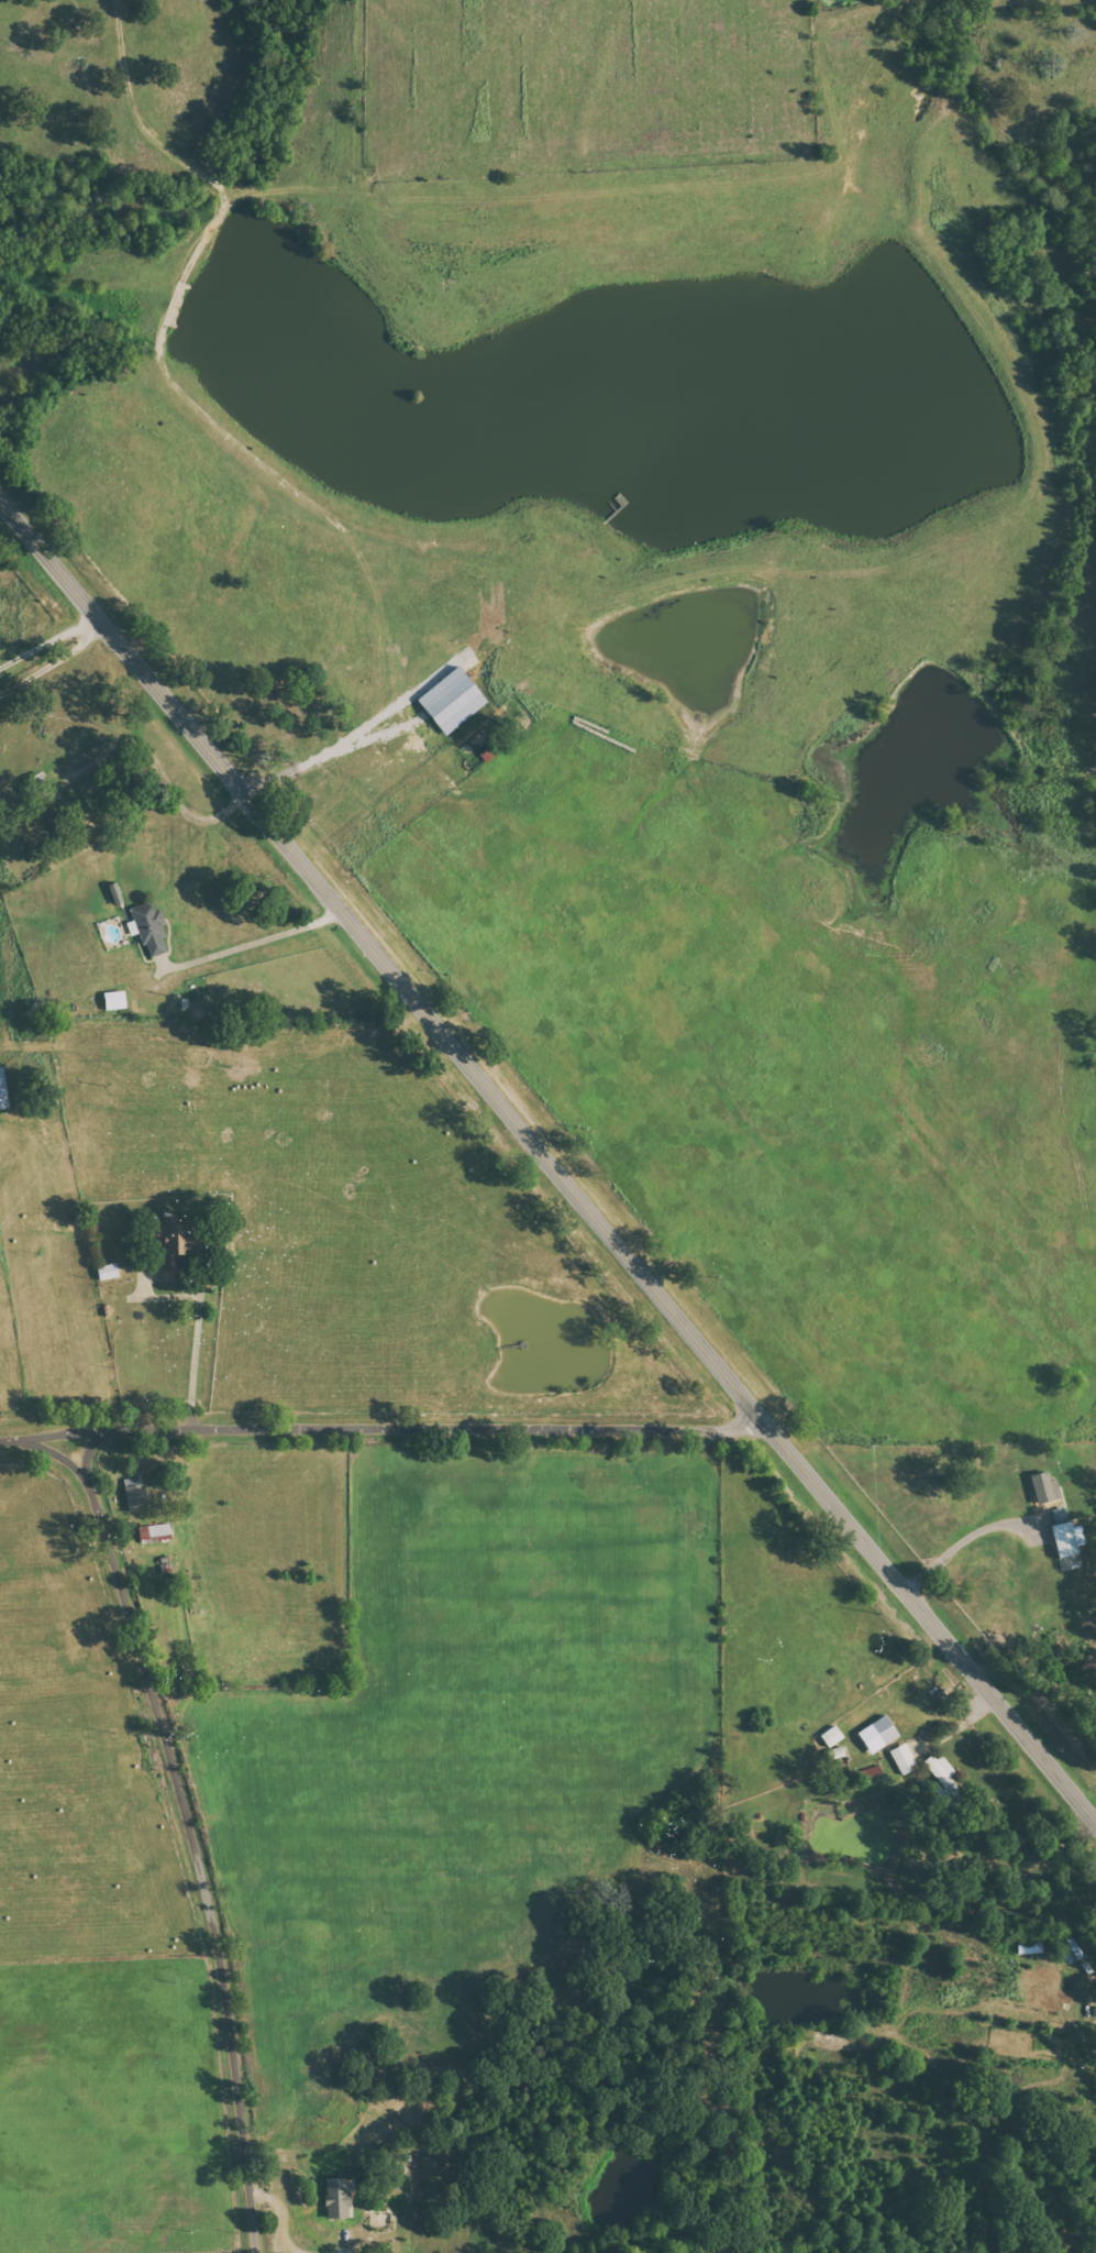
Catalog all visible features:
road: (45, 640)
road: (52, 661)
building: (450, 701)
road: (165, 777)
building: (148, 928)
road: (251, 944)
building: (113, 1000)
building: (2, 1096)
road: (549, 1162)
building: (169, 1246)
building: (106, 1272)
road: (198, 1328)
road: (384, 1431)
road: (54, 1452)
building: (1043, 1488)
building: (134, 1492)
building: (154, 1532)
building: (1061, 1534)
road: (962, 1541)
building: (876, 1735)
building: (903, 1759)
road: (189, 1834)
building: (334, 2199)

